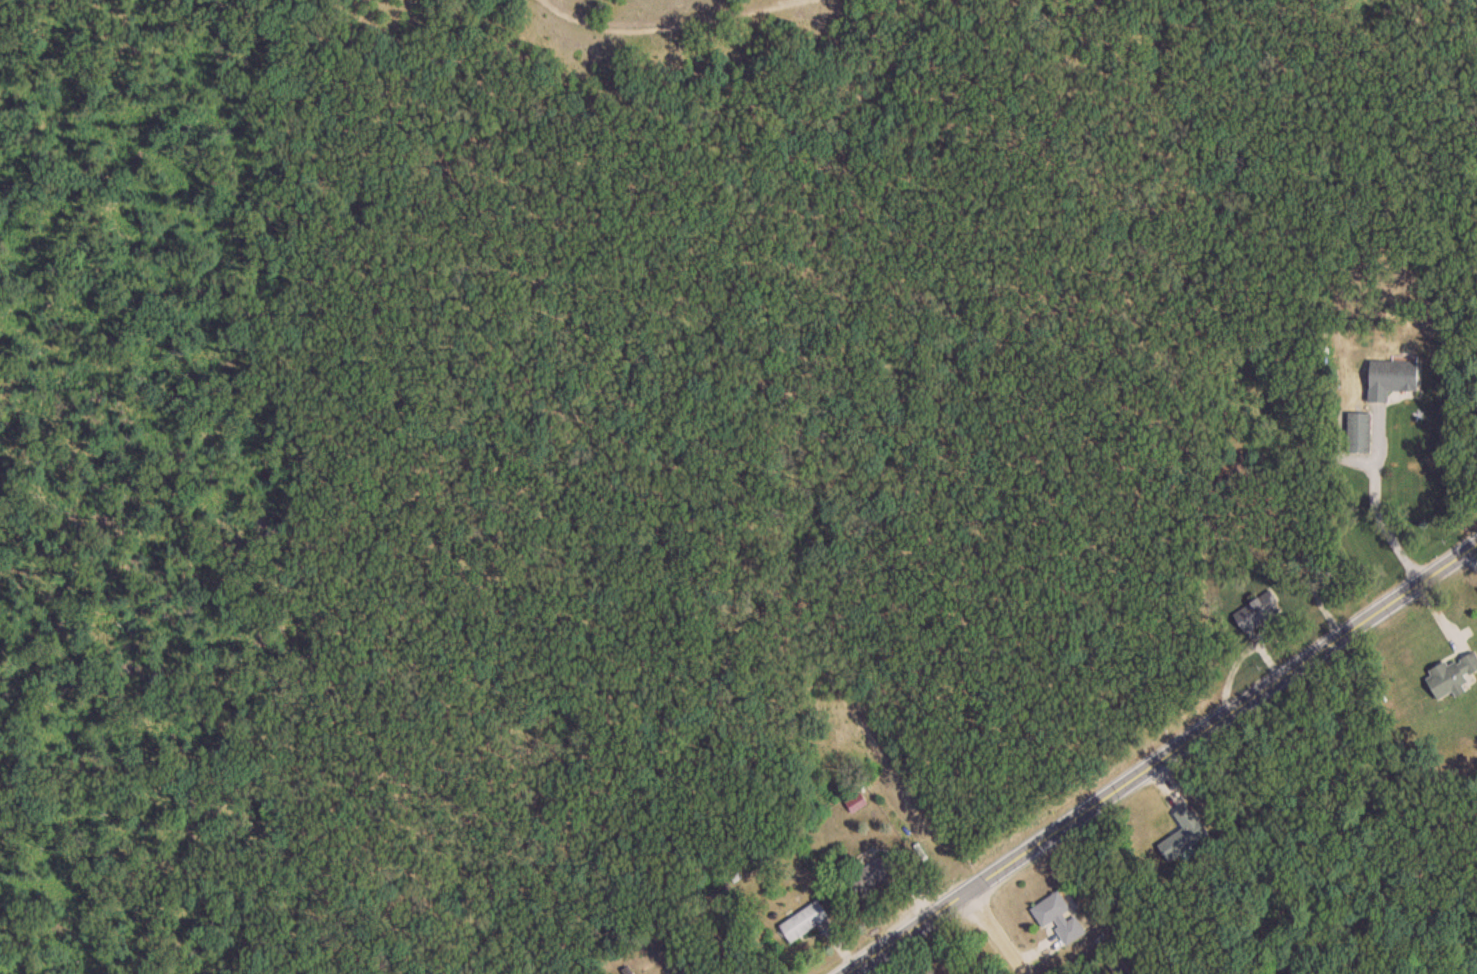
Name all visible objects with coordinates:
building: (1392, 379)
building: (1359, 432)
road: (1386, 528)
building: (1256, 613)
building: (1453, 676)
road: (1162, 760)
building: (856, 803)
building: (1184, 834)
building: (874, 875)
building: (1059, 918)
building: (804, 922)
road: (998, 933)

